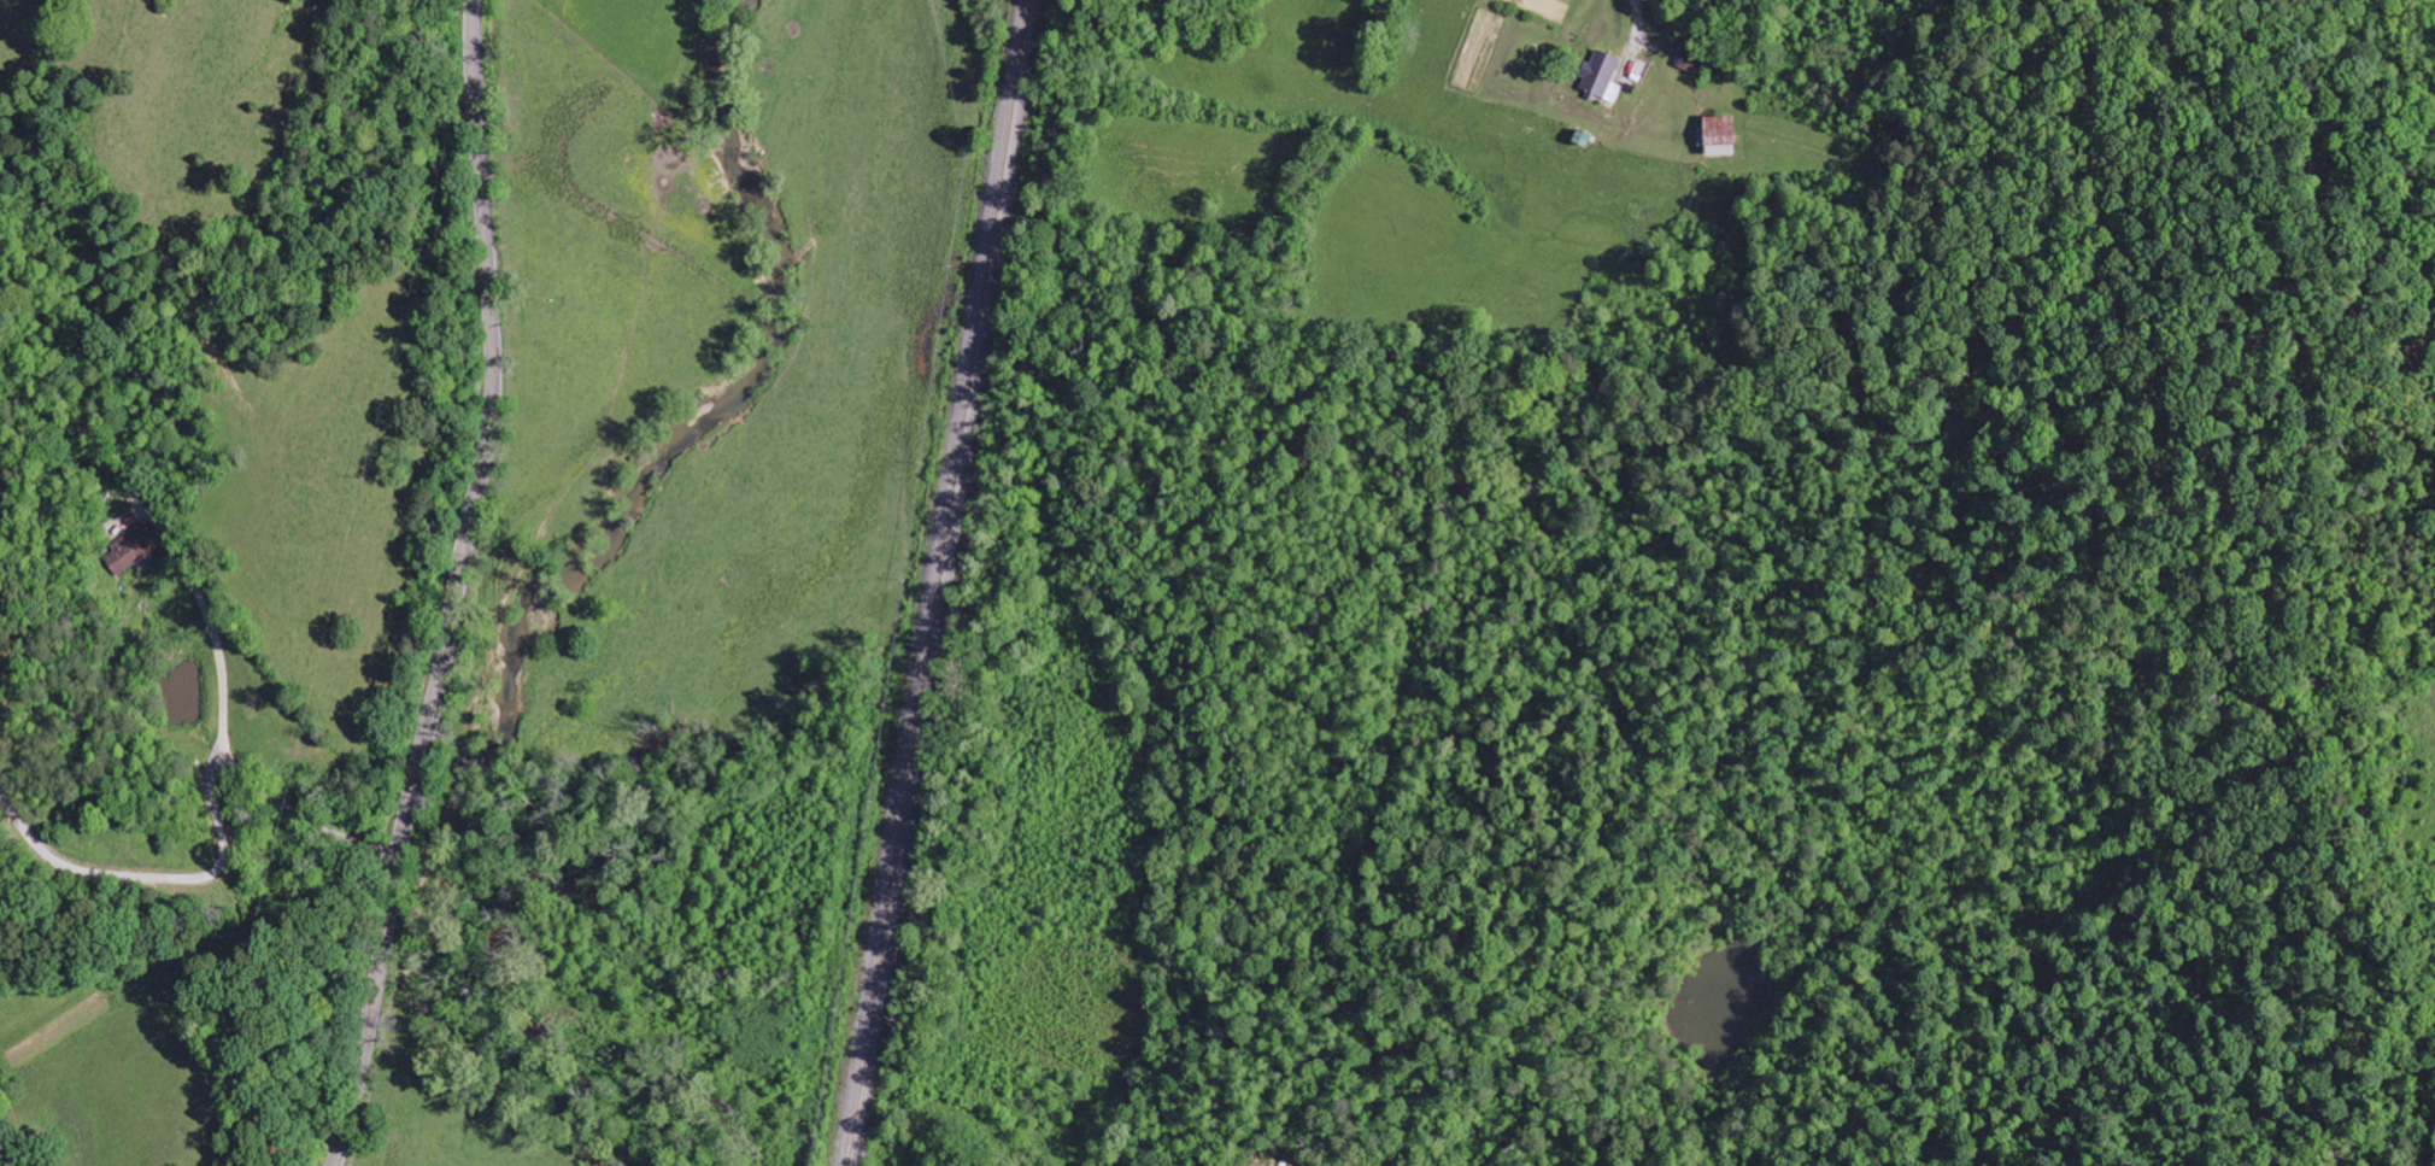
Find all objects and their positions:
building: (1690, 58)
building: (1601, 78)
building: (1717, 136)
building: (130, 551)
railway: (935, 582)
road: (456, 586)

